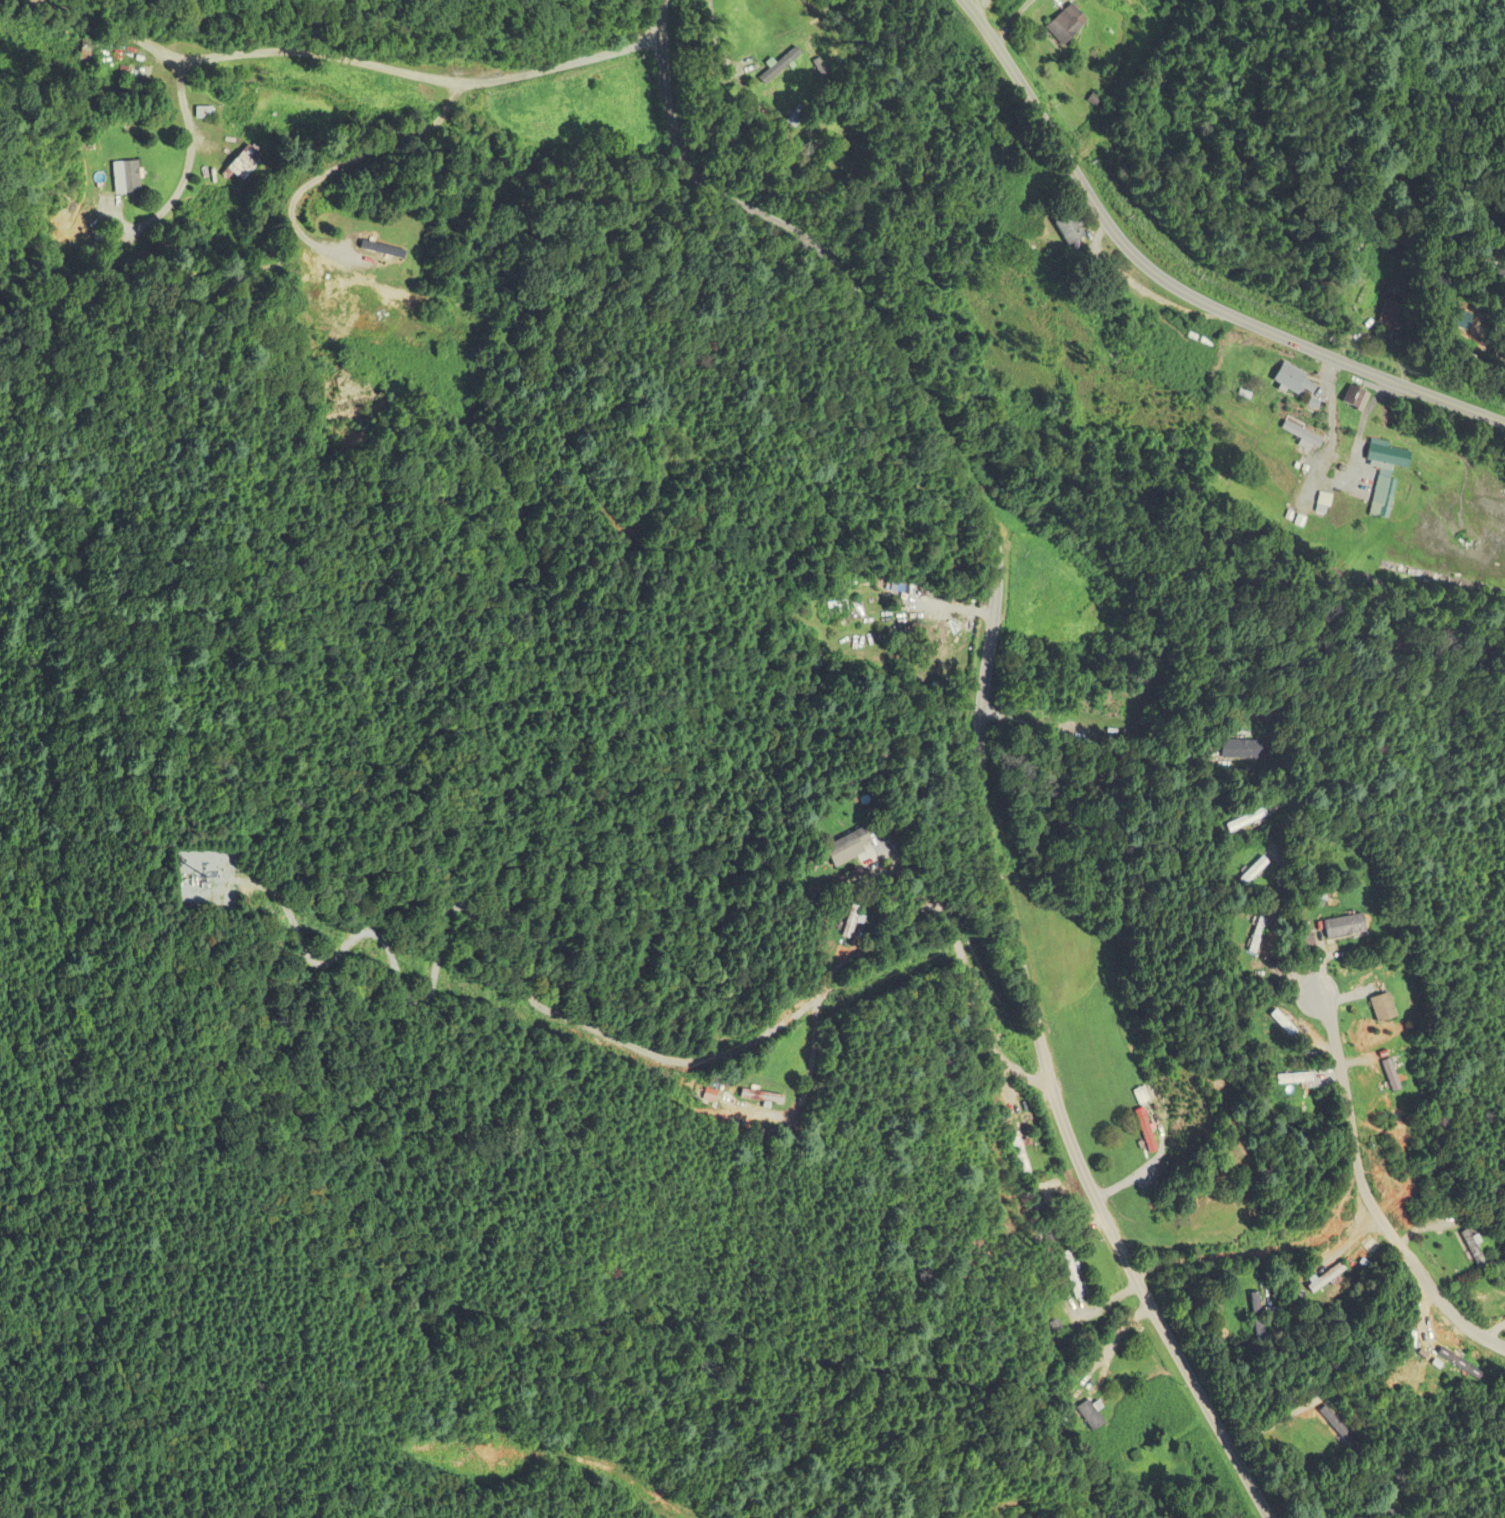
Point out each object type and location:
road: (1013, 19)
building: (1097, 30)
building: (183, 46)
building: (85, 52)
road: (348, 59)
building: (800, 115)
road: (348, 161)
building: (245, 164)
road: (188, 165)
building: (128, 177)
building: (1074, 229)
building: (385, 250)
building: (141, 261)
road: (1480, 280)
road: (1174, 286)
building: (1395, 312)
building: (1296, 381)
building: (1359, 397)
building: (1301, 440)
building: (1390, 457)
building: (1383, 497)
building: (1325, 504)
building: (874, 592)
building: (842, 608)
road: (982, 724)
building: (1242, 749)
building: (855, 848)
building: (1256, 871)
building: (858, 922)
building: (1348, 927)
road: (896, 929)
building: (1258, 936)
building: (1390, 1008)
building: (1395, 1076)
building: (1300, 1078)
building: (766, 1097)
building: (1147, 1135)
building: (1024, 1158)
building: (1440, 1188)
road: (1366, 1194)
building: (1047, 1220)
building: (1377, 1248)
building: (1478, 1250)
building: (1073, 1275)
building: (1332, 1278)
building: (1262, 1315)
building: (1278, 1315)
building: (1097, 1414)

